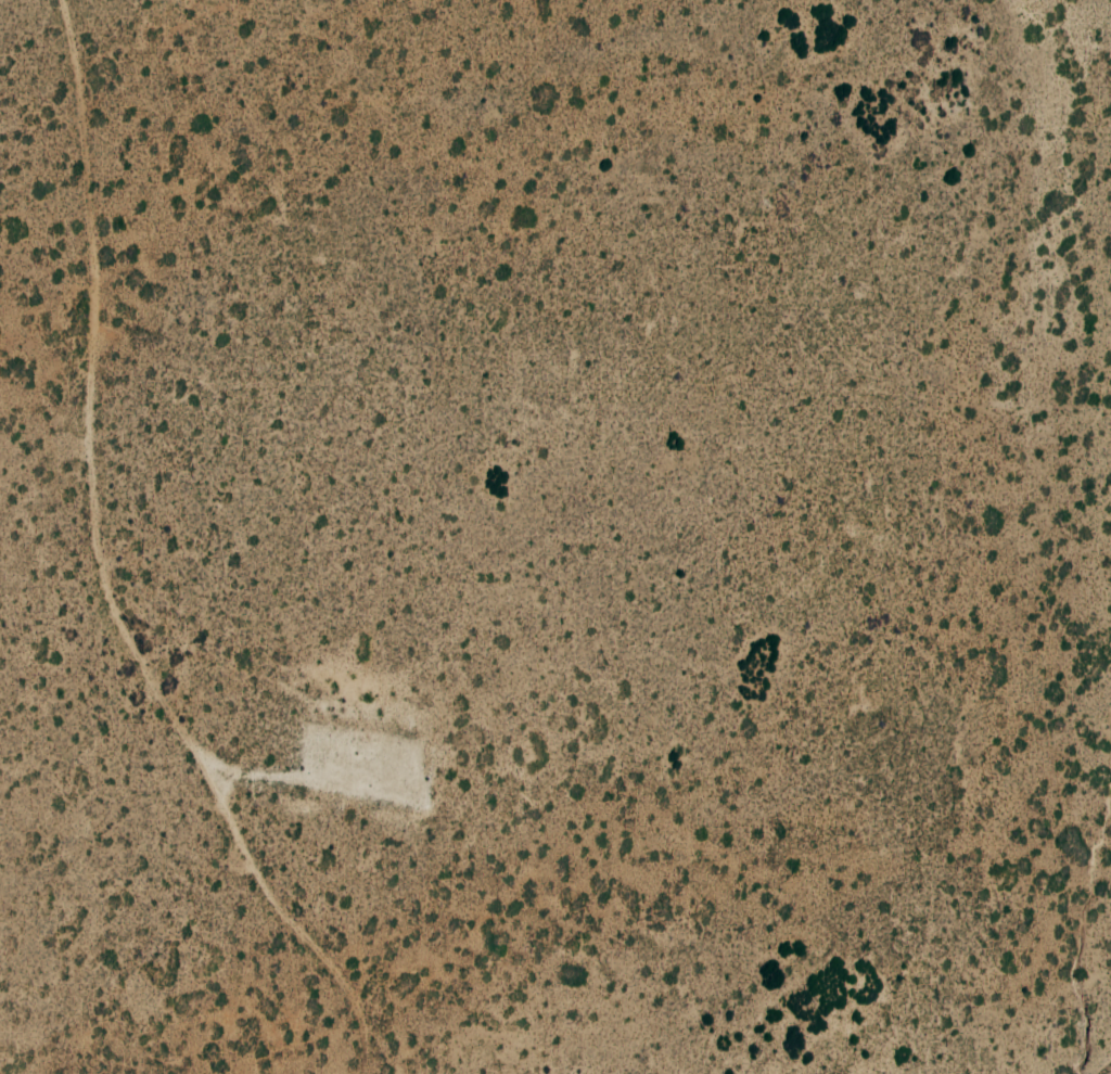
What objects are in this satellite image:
road: (93, 572)

